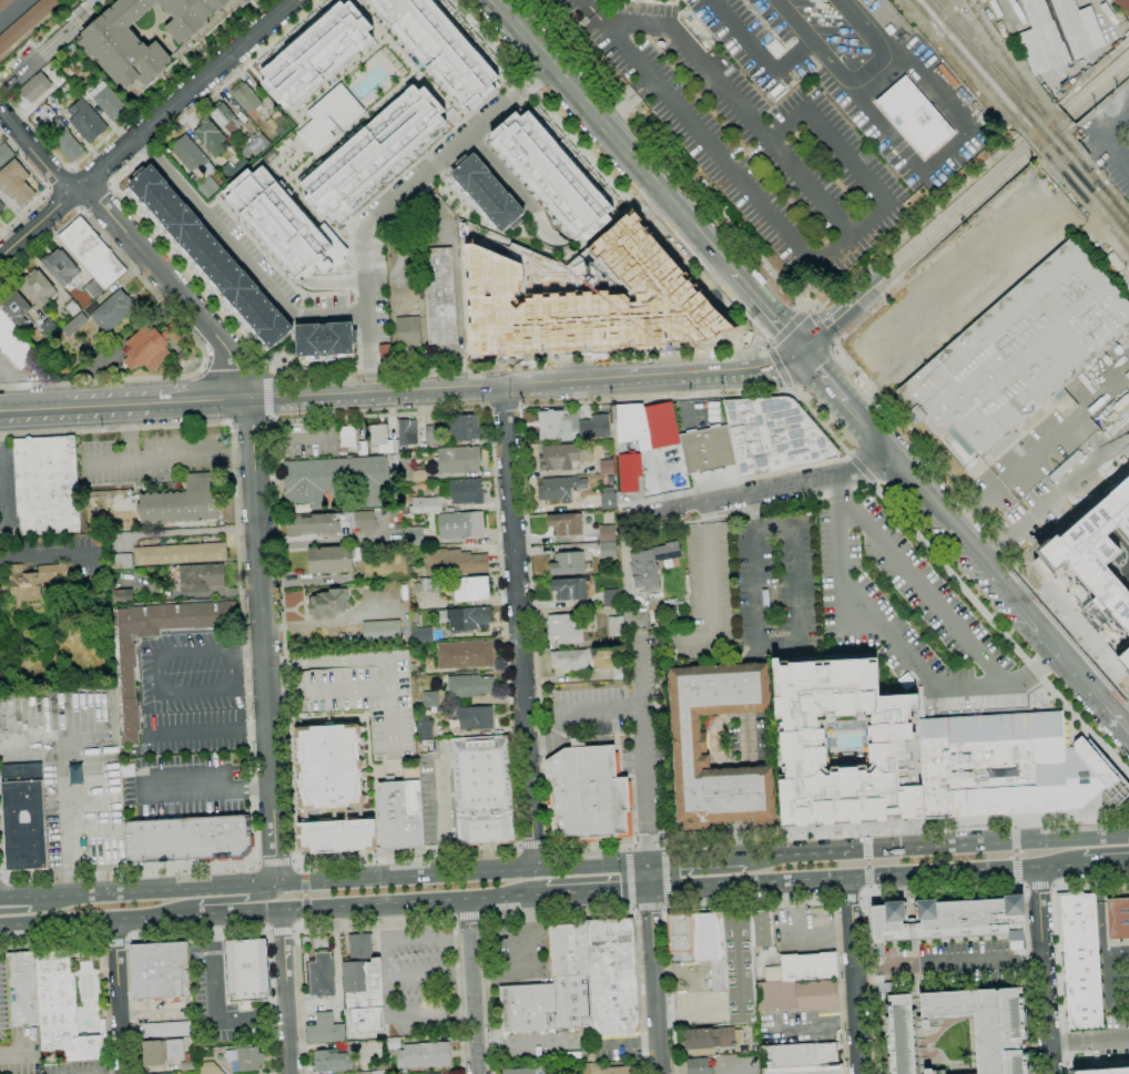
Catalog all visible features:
road: (95, 1)
building: (4, 3)
building: (1123, 6)
road: (589, 7)
building: (26, 22)
building: (1058, 33)
building: (110, 44)
building: (443, 45)
building: (72, 48)
building: (775, 48)
road: (759, 52)
building: (316, 53)
railway: (1005, 57)
railway: (990, 58)
railway: (978, 61)
railway: (968, 64)
building: (65, 68)
road: (1098, 68)
road: (850, 78)
building: (34, 88)
building: (776, 90)
road: (1098, 90)
building: (245, 96)
building: (108, 101)
road: (1105, 103)
road: (741, 106)
building: (42, 111)
building: (915, 116)
building: (329, 117)
building: (225, 119)
building: (87, 121)
road: (126, 121)
road: (1039, 121)
railway: (1052, 124)
building: (275, 125)
railway: (1049, 126)
road: (146, 127)
road: (1049, 133)
railway: (1041, 134)
building: (210, 136)
road: (613, 136)
road: (1100, 139)
railway: (1034, 141)
parking lot: (1110, 141)
building: (67, 142)
building: (255, 146)
building: (376, 150)
road: (946, 150)
railway: (1074, 152)
building: (4, 153)
railway: (1072, 153)
building: (191, 154)
building: (233, 168)
building: (558, 171)
road: (501, 174)
railway: (1091, 175)
building: (16, 182)
road: (43, 184)
building: (207, 187)
railway: (1090, 191)
building: (487, 192)
road: (95, 197)
railway: (1112, 201)
road: (398, 202)
railway: (1087, 202)
railway: (1112, 202)
building: (1, 205)
building: (0, 214)
building: (277, 218)
road: (943, 226)
road: (545, 236)
road: (786, 237)
building: (92, 252)
road: (241, 252)
road: (755, 253)
building: (207, 254)
building: (1116, 260)
building: (61, 267)
building: (773, 270)
building: (415, 277)
building: (38, 287)
building: (94, 288)
building: (640, 295)
building: (440, 296)
building: (72, 308)
building: (17, 310)
building: (112, 310)
road: (804, 310)
road: (811, 311)
road: (767, 313)
building: (75, 324)
road: (180, 324)
road: (827, 327)
building: (49, 328)
road: (821, 328)
road: (786, 330)
building: (408, 334)
road: (752, 337)
road: (759, 337)
building: (326, 341)
road: (762, 341)
building: (14, 342)
road: (834, 345)
building: (150, 347)
building: (383, 350)
traffic signals: (802, 351)
building: (1019, 351)
road: (474, 361)
road: (763, 364)
road: (779, 365)
railway: (220, 370)
parking lot: (9, 371)
railway: (213, 374)
road: (653, 374)
road: (824, 377)
road: (545, 380)
road: (791, 388)
road: (266, 397)
building: (1121, 402)
road: (12, 409)
road: (505, 409)
building: (1111, 417)
road: (252, 422)
building: (550, 425)
building: (648, 426)
building: (464, 428)
road: (871, 430)
building: (406, 431)
road: (122, 434)
building: (433, 434)
building: (774, 436)
building: (347, 437)
building: (383, 440)
road: (1084, 442)
road: (926, 447)
road: (252, 448)
building: (363, 448)
building: (708, 449)
building: (559, 458)
building: (459, 459)
road: (222, 461)
road: (143, 464)
building: (607, 467)
building: (630, 471)
building: (411, 473)
road: (818, 479)
building: (335, 480)
building: (45, 485)
building: (560, 488)
building: (467, 491)
road: (841, 493)
building: (181, 500)
building: (608, 501)
building: (427, 504)
road: (681, 508)
building: (328, 523)
building: (567, 524)
building: (461, 525)
road: (790, 526)
building: (398, 528)
building: (607, 533)
building: (414, 536)
road: (964, 538)
building: (608, 550)
road: (932, 550)
building: (1098, 552)
road: (49, 553)
building: (180, 553)
building: (121, 560)
building: (333, 560)
building: (454, 562)
building: (568, 563)
building: (652, 564)
building: (201, 579)
building: (33, 580)
road: (708, 581)
building: (431, 585)
parking lot: (779, 587)
building: (469, 589)
building: (570, 589)
building: (122, 596)
building: (610, 597)
building: (327, 603)
parking lot: (912, 615)
building: (414, 617)
building: (634, 617)
building: (468, 620)
road: (535, 621)
road: (521, 626)
building: (616, 626)
building: (563, 630)
building: (382, 631)
building: (421, 635)
road: (246, 651)
road: (755, 654)
building: (465, 655)
building: (1125, 657)
building: (569, 661)
road: (1070, 662)
road: (1035, 668)
building: (619, 672)
parking lot: (190, 673)
road: (643, 676)
road: (245, 677)
building: (125, 683)
building: (469, 685)
road: (978, 685)
road: (749, 688)
road: (160, 693)
building: (366, 695)
parking garage: (366, 695)
building: (430, 699)
road: (578, 713)
road: (1118, 716)
building: (475, 717)
parking lot: (625, 717)
road: (207, 729)
building: (425, 729)
parking lot: (192, 730)
road: (745, 739)
road: (614, 740)
building: (689, 741)
road: (713, 741)
building: (893, 741)
road: (560, 743)
road: (578, 743)
building: (329, 767)
building: (1011, 767)
parking lot: (190, 785)
road: (648, 787)
road: (213, 788)
building: (481, 789)
building: (586, 792)
road: (749, 792)
road: (65, 794)
building: (400, 811)
building: (304, 815)
building: (23, 817)
road: (1015, 821)
road: (865, 832)
building: (337, 837)
road: (753, 838)
building: (189, 839)
road: (629, 845)
road: (658, 845)
road: (535, 848)
road: (936, 848)
road: (516, 849)
road: (1016, 852)
railway: (883, 857)
railway: (883, 857)
road: (293, 858)
road: (274, 859)
road: (257, 860)
railway: (458, 861)
road: (694, 861)
road: (1106, 861)
road: (867, 862)
railway: (457, 863)
traffic signals: (647, 865)
road: (1061, 865)
road: (303, 867)
road: (462, 874)
road: (629, 876)
road: (647, 877)
road: (662, 877)
road: (843, 877)
road: (1, 879)
road: (1017, 883)
road: (1054, 887)
road: (948, 888)
road: (1026, 888)
road: (1039, 888)
road: (1039, 888)
traffic signals: (648, 889)
road: (869, 889)
road: (155, 891)
road: (597, 891)
road: (305, 894)
road: (517, 896)
road: (16, 897)
road: (0, 898)
road: (0, 898)
road: (851, 898)
road: (224, 900)
road: (373, 903)
road: (755, 906)
road: (628, 907)
road: (665, 908)
road: (227, 911)
road: (562, 912)
road: (637, 912)
road: (650, 912)
road: (663, 912)
road: (155, 916)
road: (482, 917)
road: (468, 918)
building: (1118, 918)
road: (455, 919)
building: (950, 920)
road: (1055, 921)
road: (57, 922)
road: (307, 922)
road: (379, 922)
road: (294, 929)
building: (762, 929)
road: (281, 930)
road: (269, 931)
road: (408, 934)
road: (203, 937)
building: (680, 937)
building: (706, 937)
road: (115, 943)
road: (283, 955)
road: (103, 957)
building: (1080, 961)
building: (808, 966)
road: (950, 966)
building: (739, 968)
road: (1046, 969)
building: (247, 970)
building: (159, 971)
road: (429, 973)
building: (322, 974)
road: (855, 974)
building: (612, 975)
building: (719, 975)
road: (653, 981)
road: (214, 982)
parking lot: (421, 985)
road: (472, 985)
building: (362, 986)
building: (553, 986)
building: (885, 988)
building: (22, 989)
road: (118, 996)
building: (797, 996)
building: (63, 1011)
road: (268, 1011)
road: (410, 1017)
building: (986, 1025)
building: (166, 1030)
building: (325, 1030)
building: (901, 1035)
road: (287, 1037)
building: (708, 1037)
road: (1089, 1040)
building: (393, 1043)
building: (744, 1050)
building: (161, 1051)
road: (1061, 1051)
building: (424, 1055)
building: (335, 1057)
building: (245, 1058)
building: (800, 1060)
building: (187, 1062)
building: (695, 1065)
building: (380, 1067)
building: (210, 1068)
building: (609, 1070)
building: (519, 1071)
building: (1105, 1071)
building: (41, 1072)
building: (379, 1072)
building: (403, 1072)
building: (934, 1072)
building: (164, 1073)

